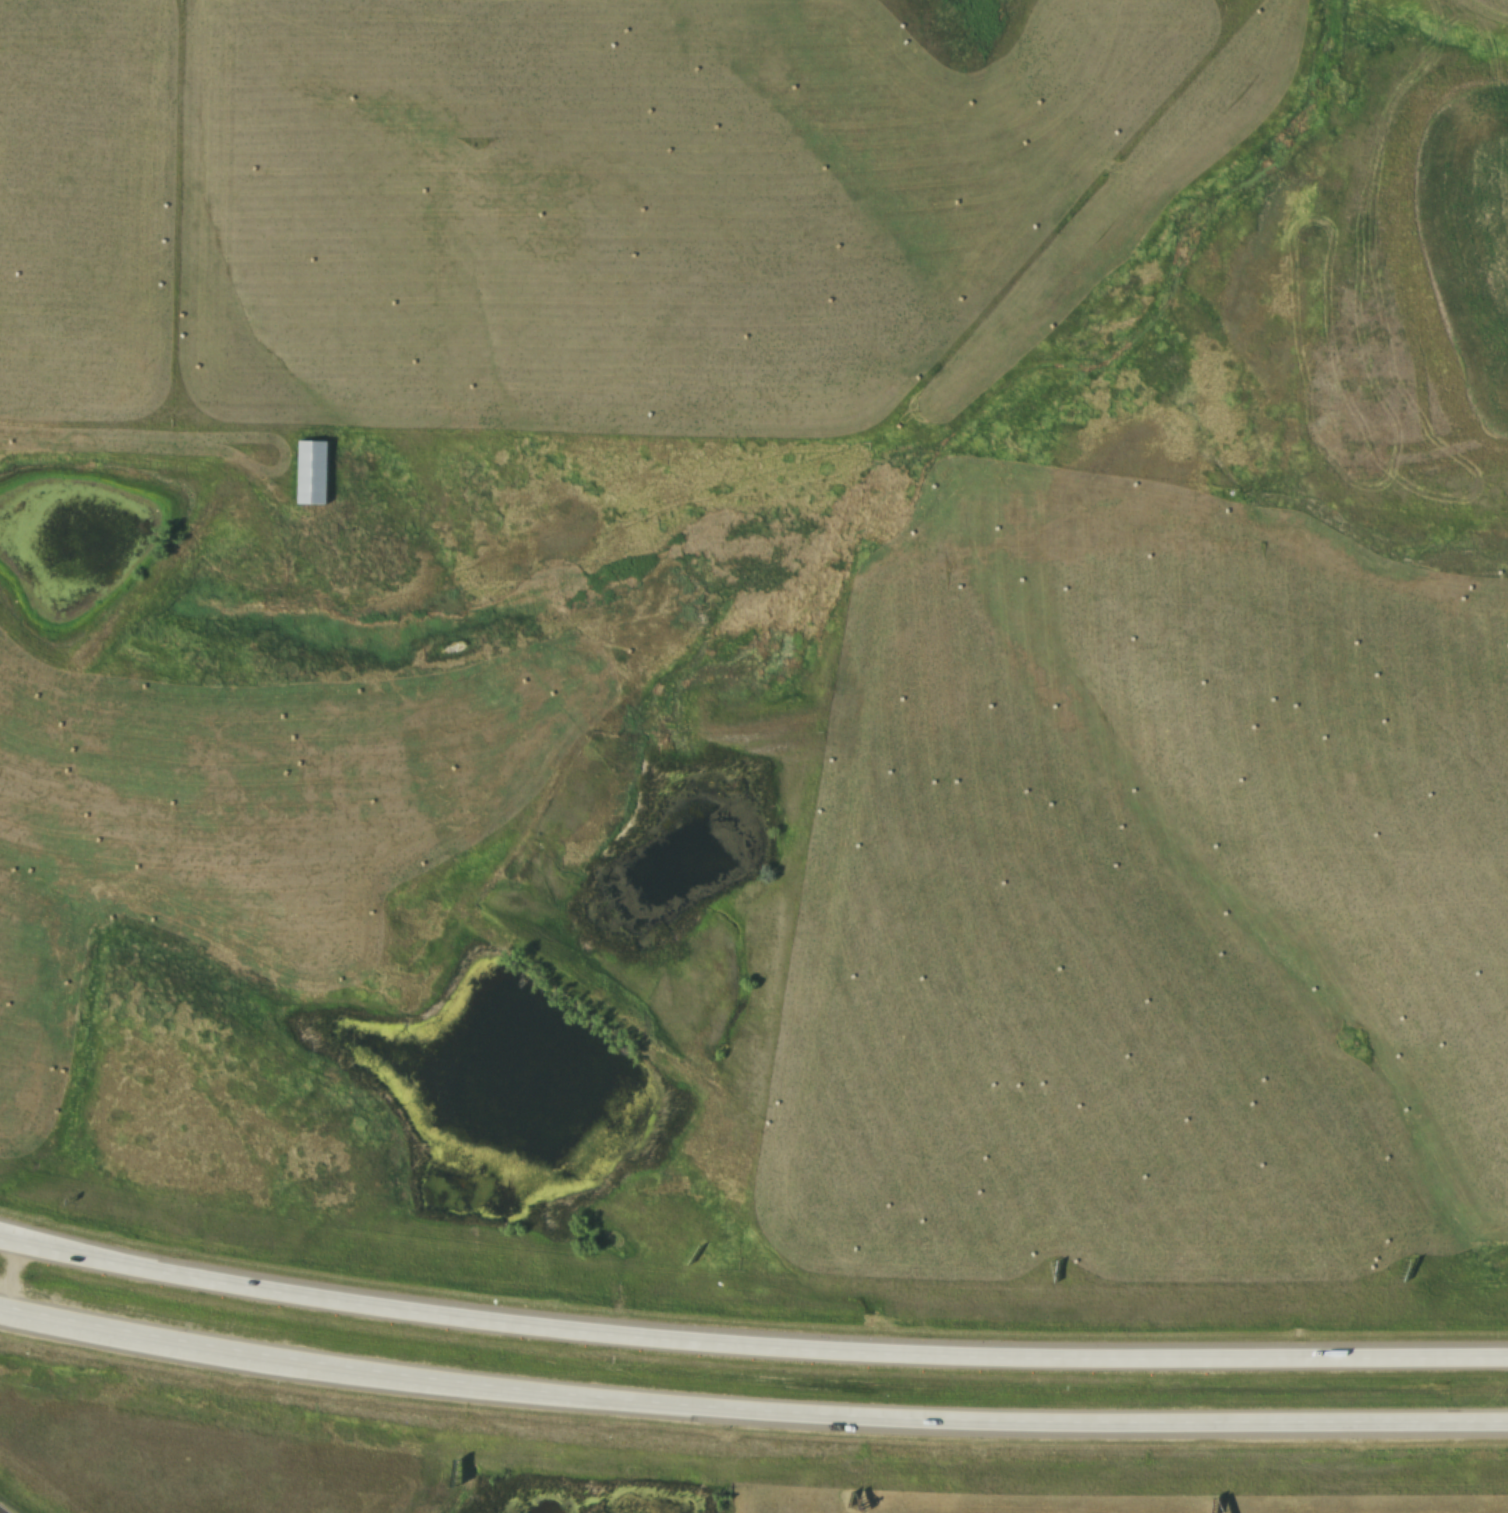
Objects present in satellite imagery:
building: (316, 474)
road: (9, 1279)
road: (750, 1347)
road: (750, 1412)

